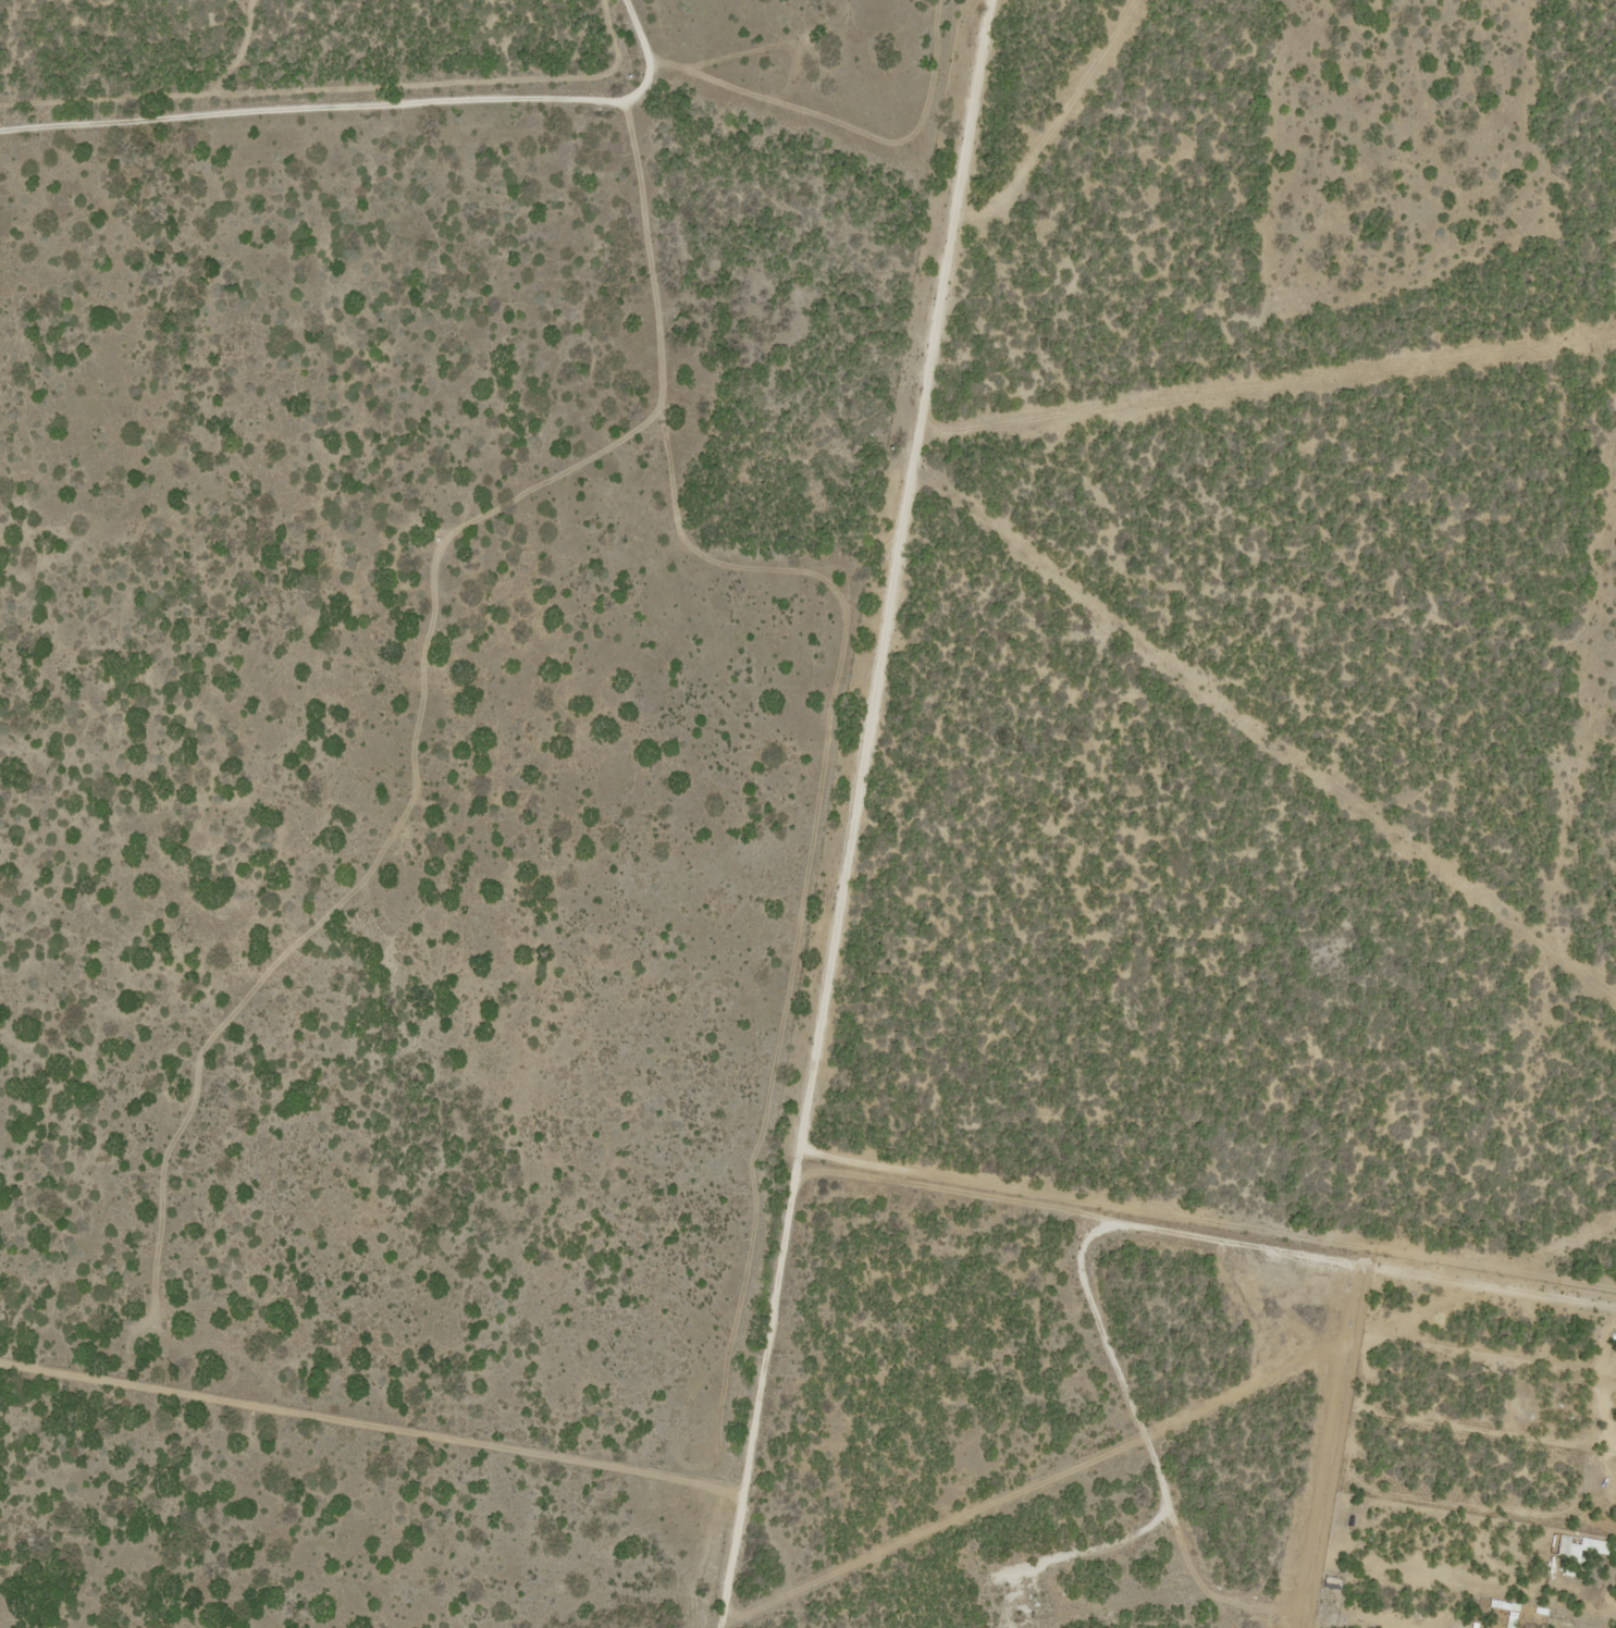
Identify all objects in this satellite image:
road: (353, 120)
road: (959, 217)
road: (822, 1029)
road: (1151, 1229)

